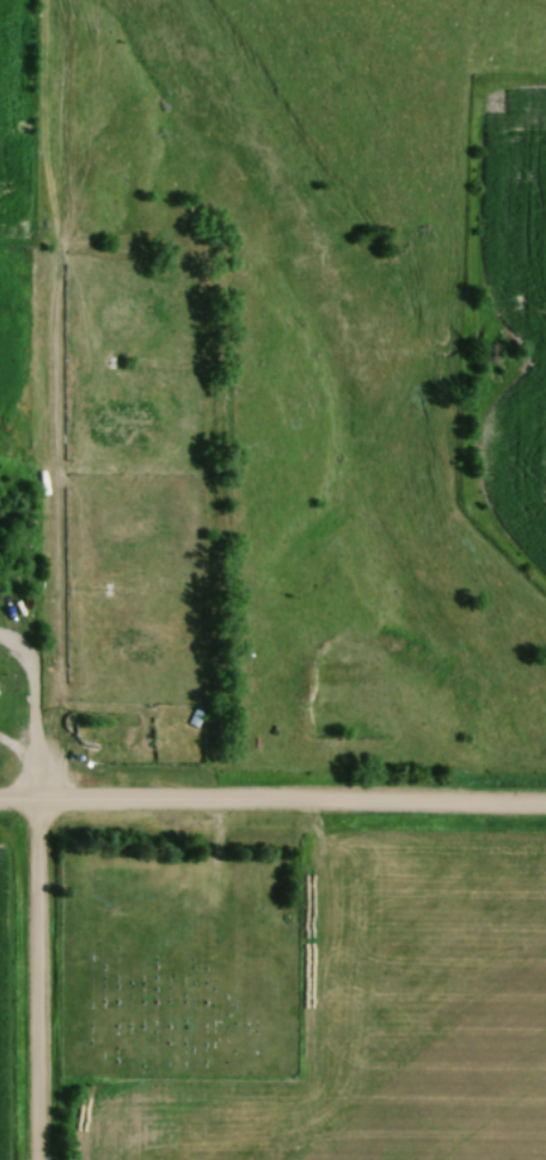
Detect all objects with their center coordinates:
road: (13, 773)
road: (272, 806)
building: (281, 927)
road: (29, 982)

